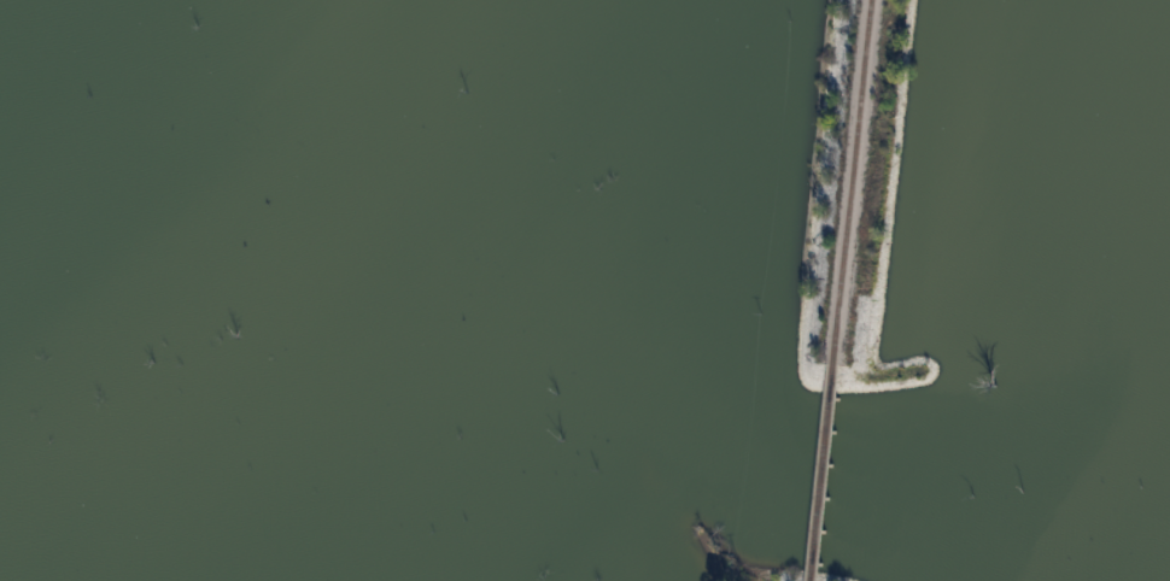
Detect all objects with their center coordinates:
railway: (853, 180)
railway: (823, 470)

